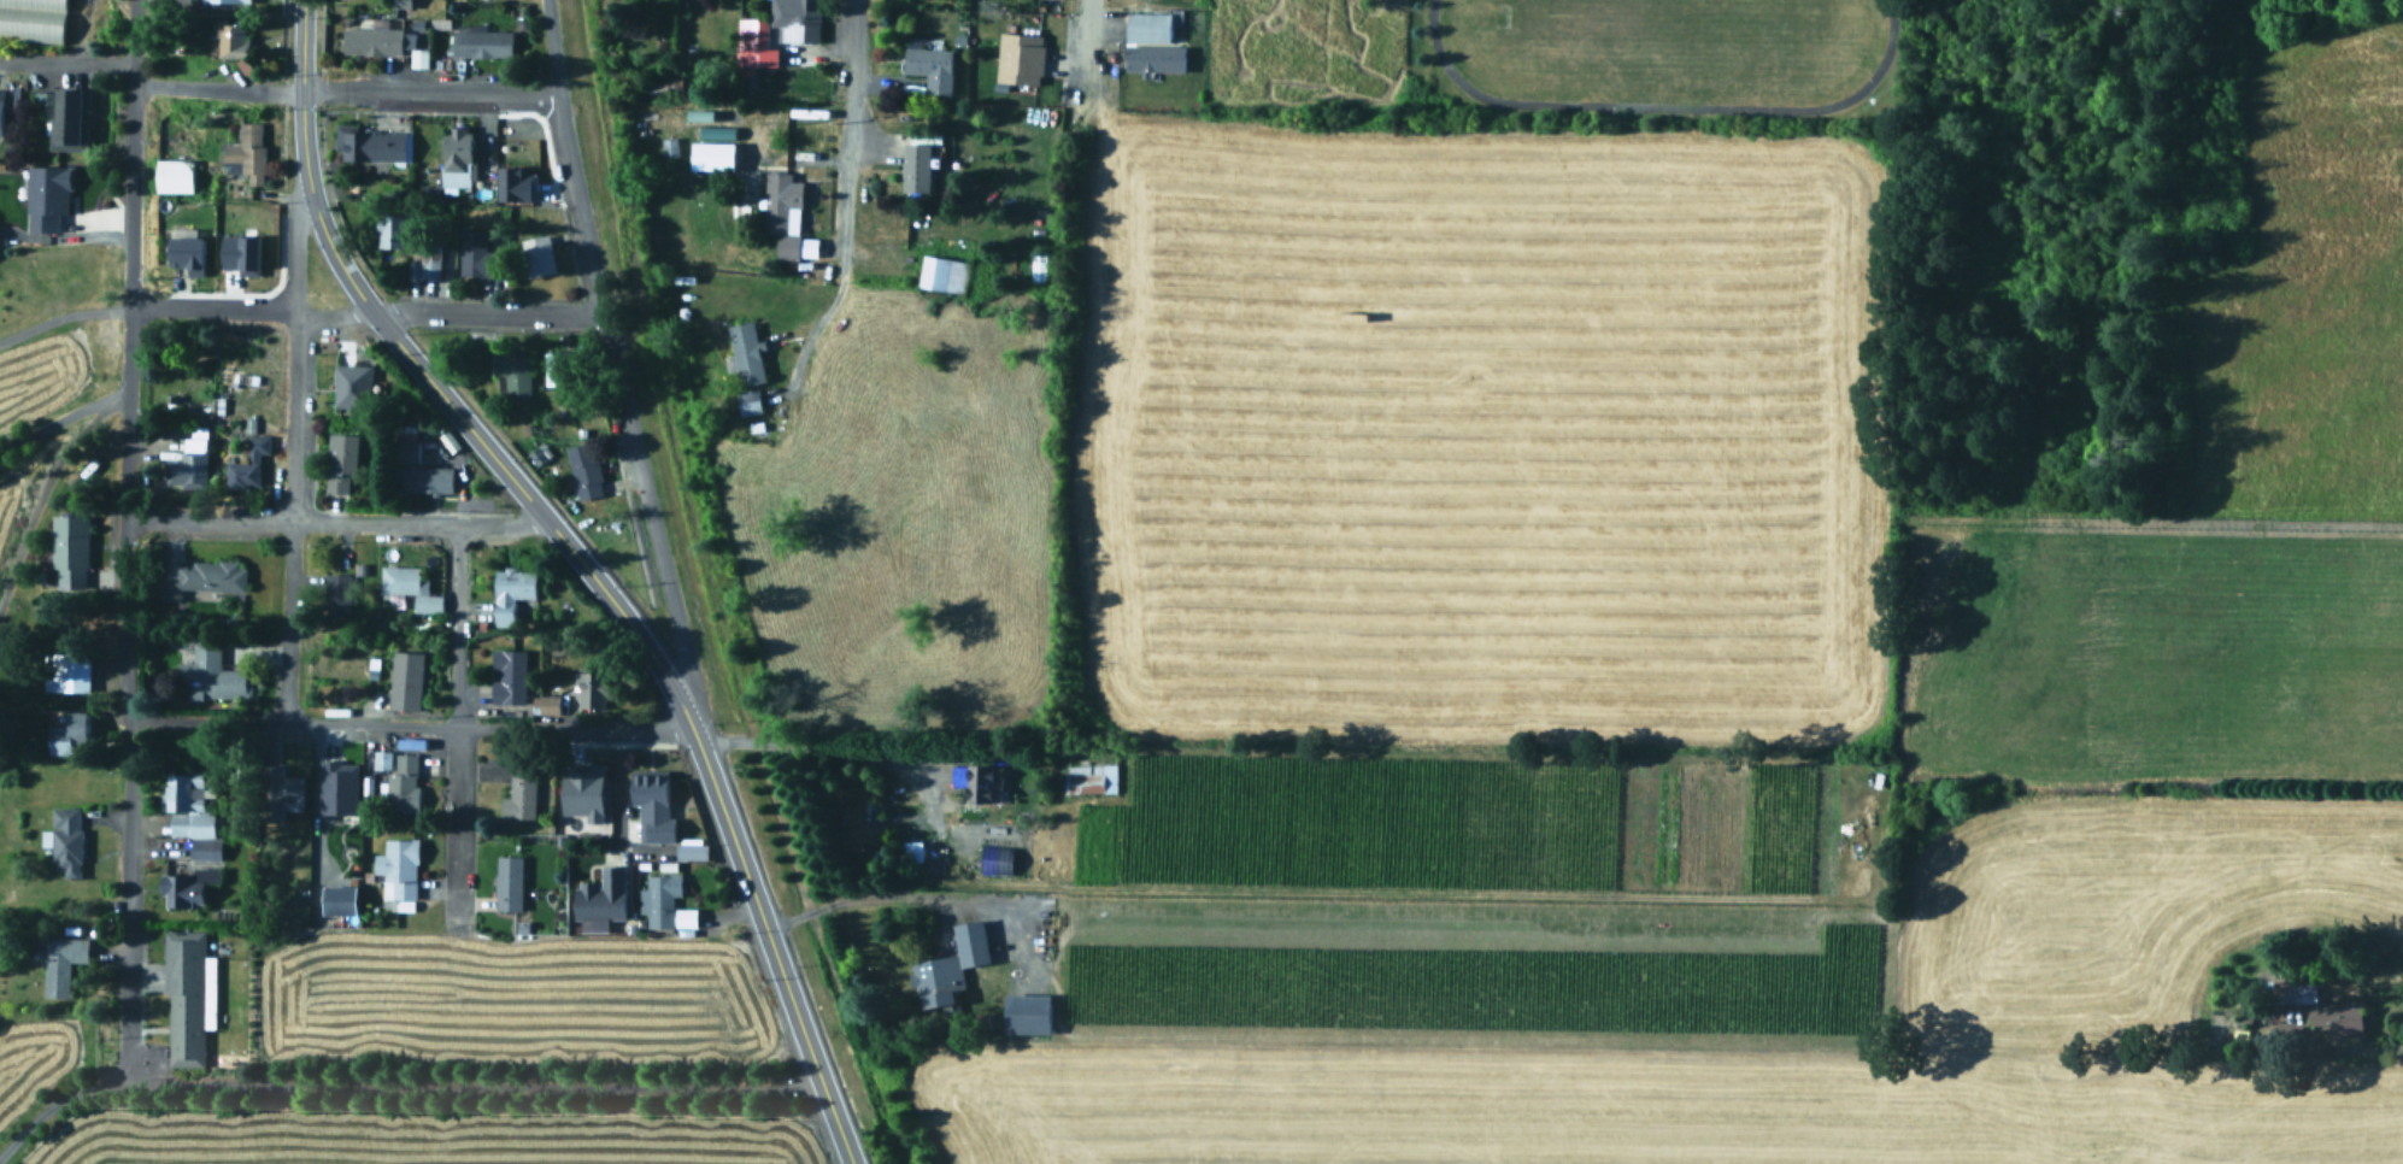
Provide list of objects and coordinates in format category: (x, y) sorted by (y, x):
building: (228, 1)
building: (398, 2)
building: (792, 19)
building: (33, 20)
building: (1145, 25)
building: (233, 39)
building: (377, 41)
road: (300, 43)
building: (482, 45)
building: (750, 45)
park: (1664, 47)
road: (1081, 51)
track: (1662, 51)
building: (1017, 57)
building: (1152, 57)
road: (65, 59)
building: (927, 65)
road: (216, 88)
road: (428, 88)
building: (0, 113)
building: (69, 120)
road: (851, 131)
building: (668, 143)
building: (369, 145)
building: (247, 151)
building: (707, 153)
building: (456, 157)
building: (912, 164)
road: (305, 176)
building: (175, 177)
building: (510, 181)
building: (47, 198)
building: (783, 214)
building: (393, 230)
building: (236, 249)
building: (182, 251)
building: (478, 255)
building: (537, 255)
building: (430, 263)
building: (940, 270)
road: (295, 300)
road: (365, 312)
road: (63, 316)
road: (811, 327)
building: (741, 351)
road: (612, 360)
building: (562, 371)
building: (512, 372)
building: (352, 387)
building: (746, 399)
road: (61, 421)
building: (407, 451)
building: (537, 451)
building: (345, 463)
building: (189, 464)
building: (247, 464)
road: (290, 468)
building: (584, 471)
building: (427, 480)
road: (45, 483)
road: (206, 522)
road: (417, 524)
road: (123, 536)
building: (72, 553)
building: (201, 578)
building: (410, 586)
building: (512, 592)
building: (336, 594)
road: (286, 622)
building: (218, 670)
road: (660, 671)
building: (67, 672)
building: (509, 676)
crop: (1693, 676)
building: (405, 680)
building: (591, 690)
building: (550, 702)
road: (290, 723)
road: (456, 723)
road: (572, 728)
building: (71, 734)
road: (799, 743)
building: (1089, 778)
building: (400, 780)
building: (985, 784)
building: (578, 788)
building: (278, 790)
building: (519, 794)
building: (336, 798)
building: (653, 804)
building: (66, 840)
building: (190, 841)
building: (688, 848)
building: (909, 848)
building: (993, 857)
building: (400, 870)
building: (509, 884)
building: (334, 896)
building: (601, 896)
road: (852, 898)
building: (658, 900)
building: (61, 964)
building: (950, 966)
building: (184, 998)
building: (2321, 1007)
building: (1022, 1011)
road: (2367, 1048)
road: (393, 1084)
crop: (374, 1087)

